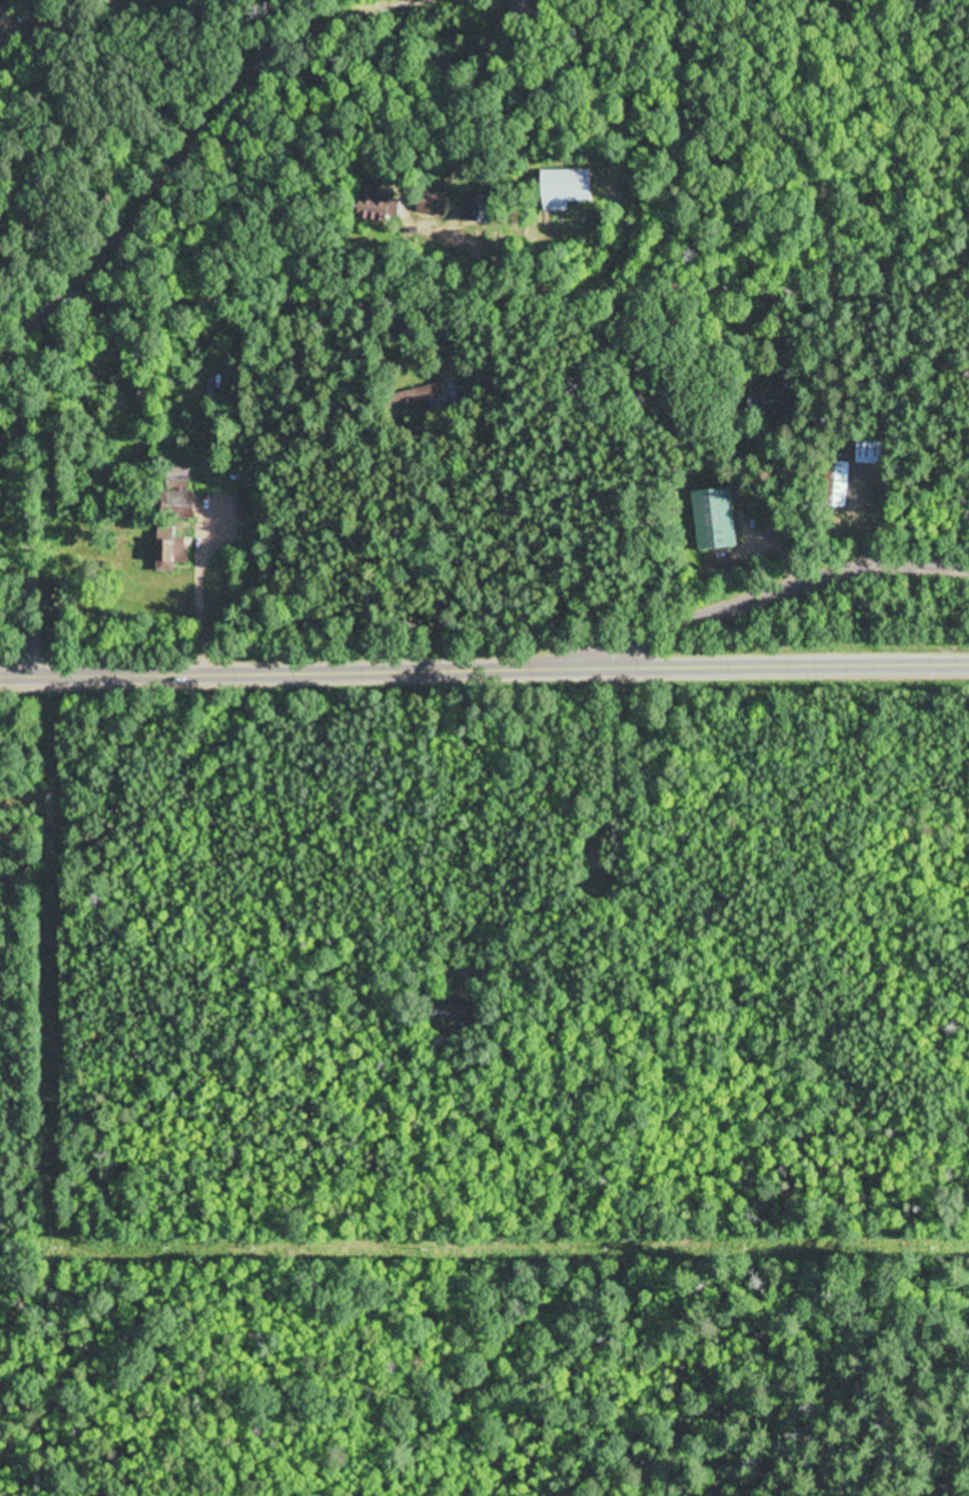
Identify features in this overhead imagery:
road: (235, 106)
road: (823, 142)
road: (713, 143)
road: (89, 152)
building: (570, 186)
building: (435, 202)
building: (384, 208)
road: (329, 291)
building: (870, 452)
building: (840, 477)
building: (181, 480)
building: (730, 517)
building: (175, 547)
road: (760, 592)
road: (484, 664)

